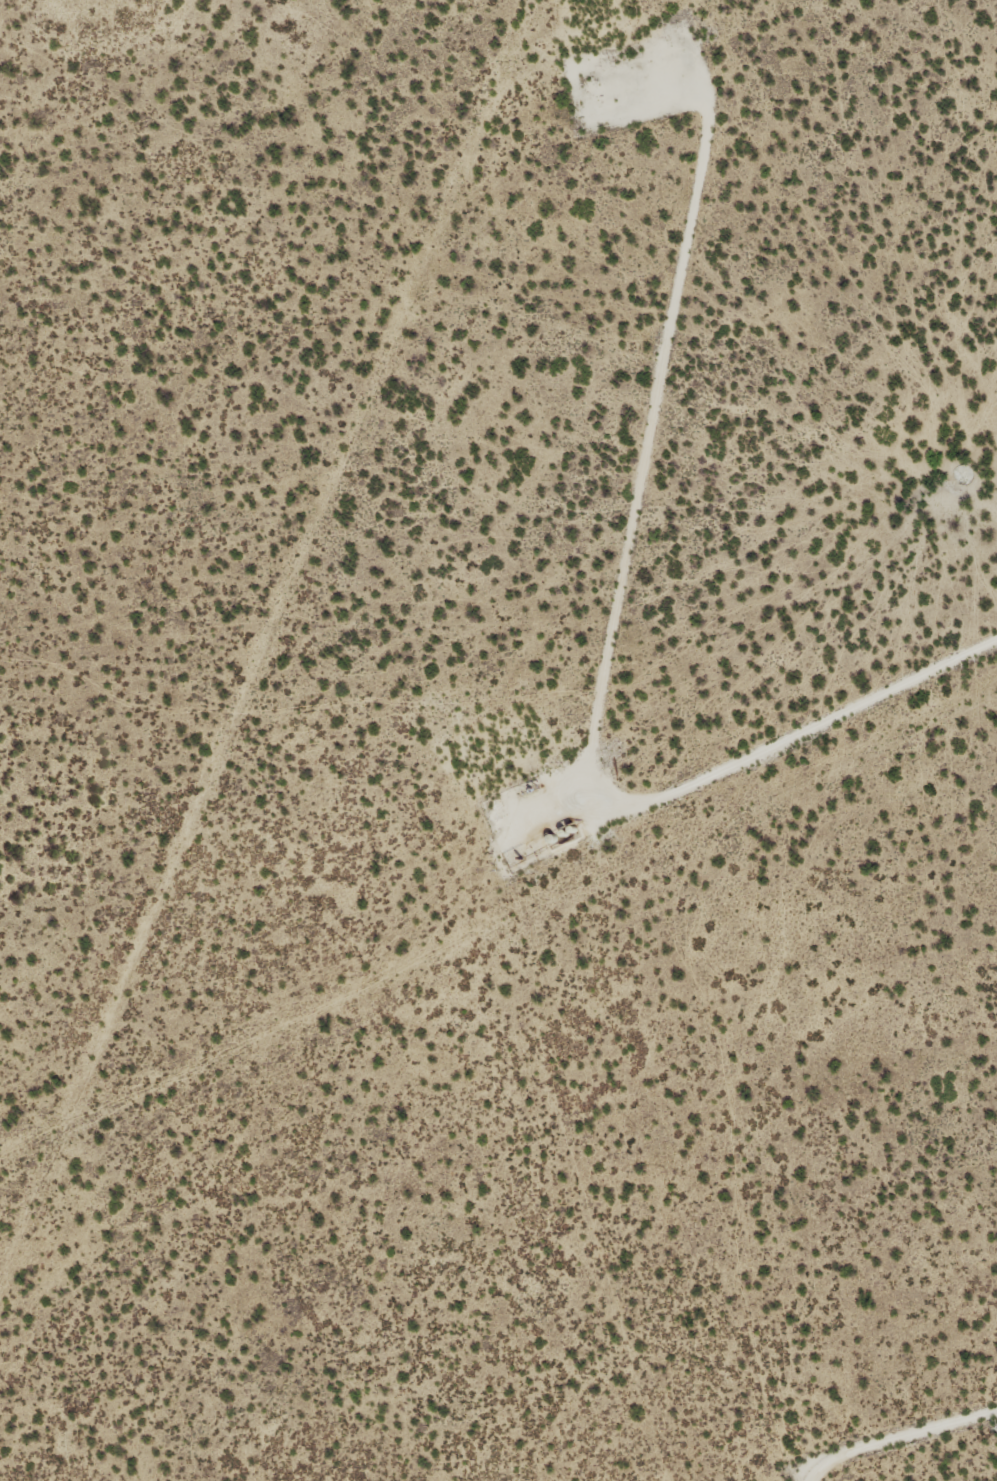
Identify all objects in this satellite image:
road: (894, 1436)

